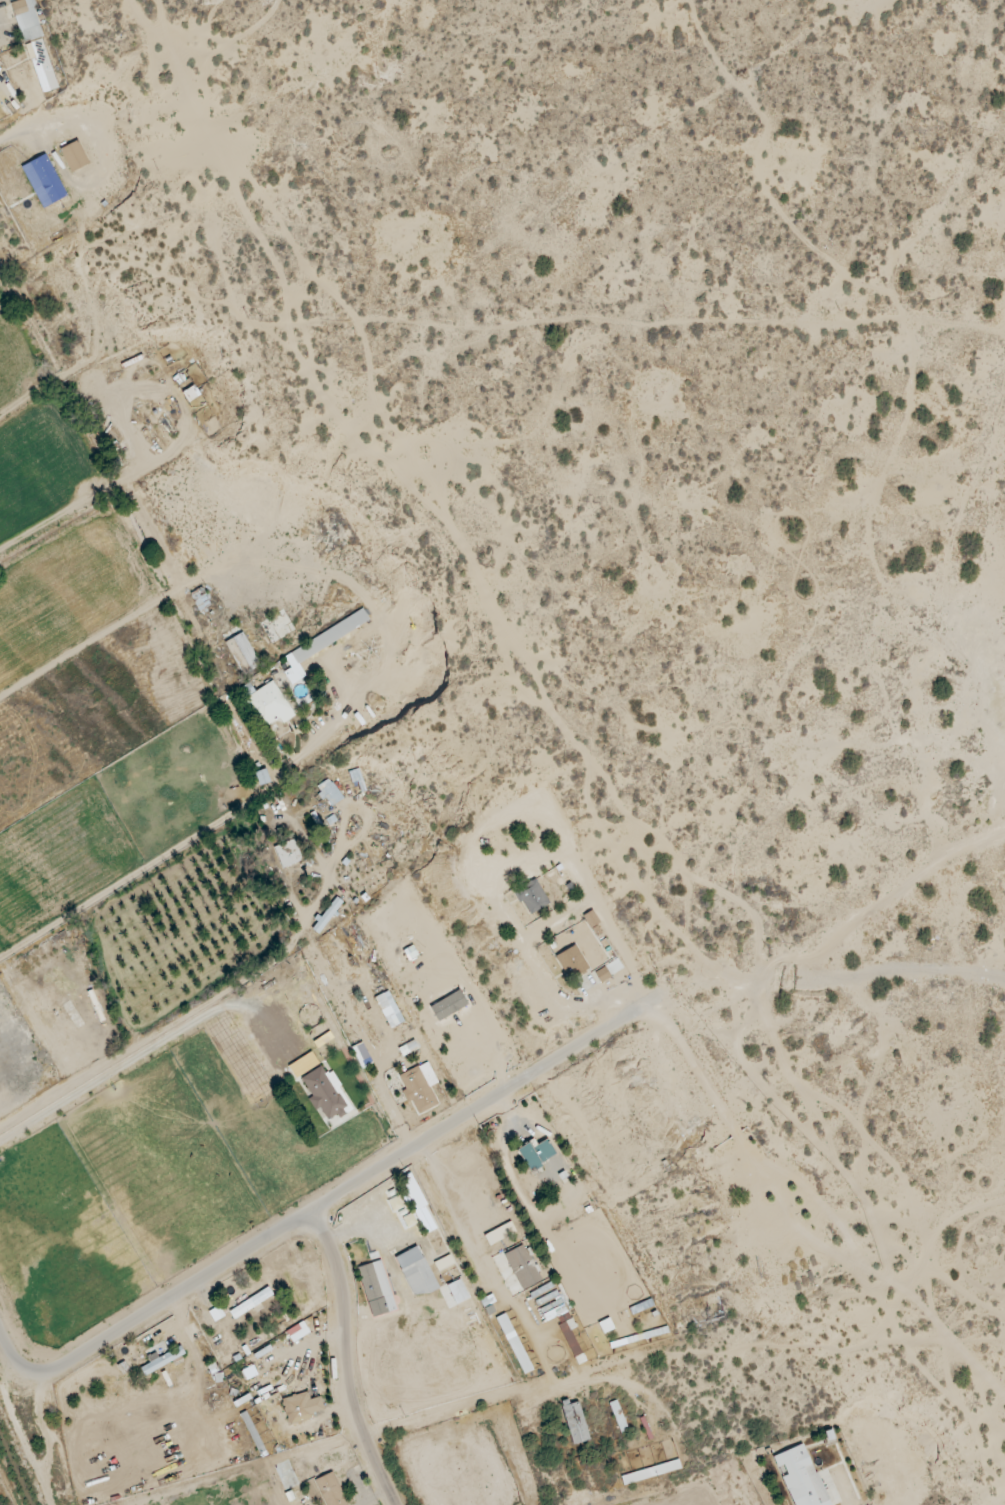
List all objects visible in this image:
building: (27, 20)
building: (42, 67)
building: (74, 156)
building: (43, 181)
building: (321, 644)
building: (242, 654)
building: (264, 705)
building: (262, 777)
building: (329, 793)
road: (165, 854)
building: (287, 854)
building: (531, 897)
building: (327, 915)
building: (590, 919)
building: (571, 962)
building: (602, 975)
building: (389, 1010)
road: (135, 1041)
building: (361, 1055)
building: (303, 1065)
building: (419, 1087)
building: (324, 1094)
building: (535, 1154)
building: (395, 1204)
building: (417, 1204)
road: (330, 1207)
building: (499, 1234)
building: (443, 1263)
building: (523, 1267)
building: (416, 1272)
building: (376, 1289)
building: (453, 1293)
building: (250, 1303)
building: (297, 1332)
building: (514, 1344)
road: (536, 1349)
building: (162, 1360)
road: (343, 1364)
building: (249, 1373)
building: (300, 1408)
building: (615, 1411)
building: (575, 1423)
building: (800, 1477)
building: (330, 1490)

